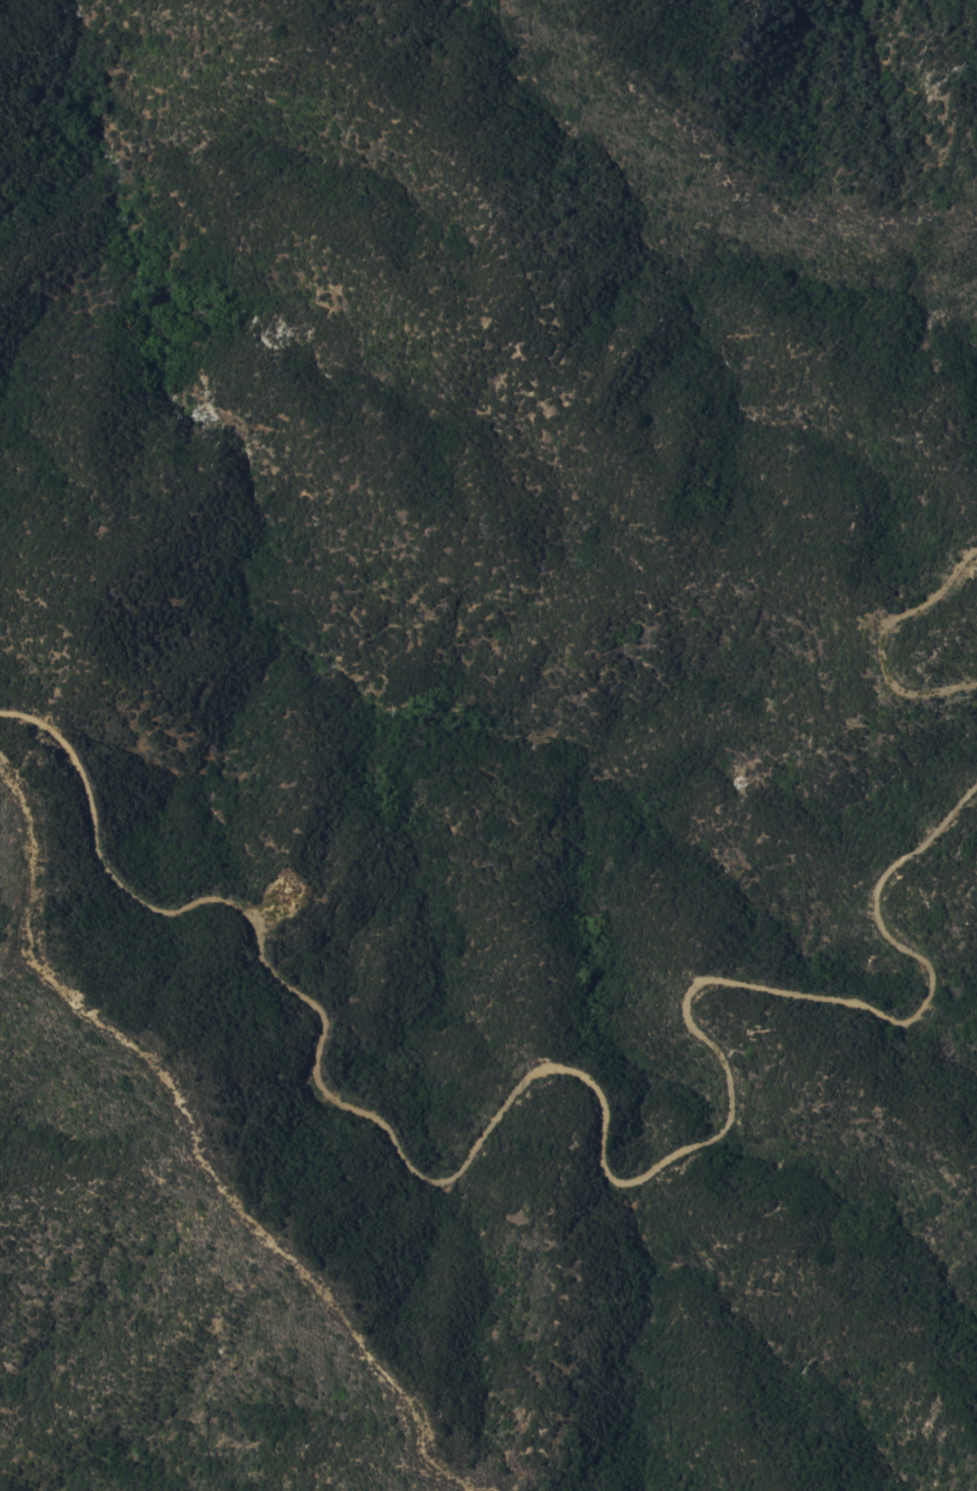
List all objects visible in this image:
road: (879, 638)
road: (587, 1089)
road: (205, 1140)

